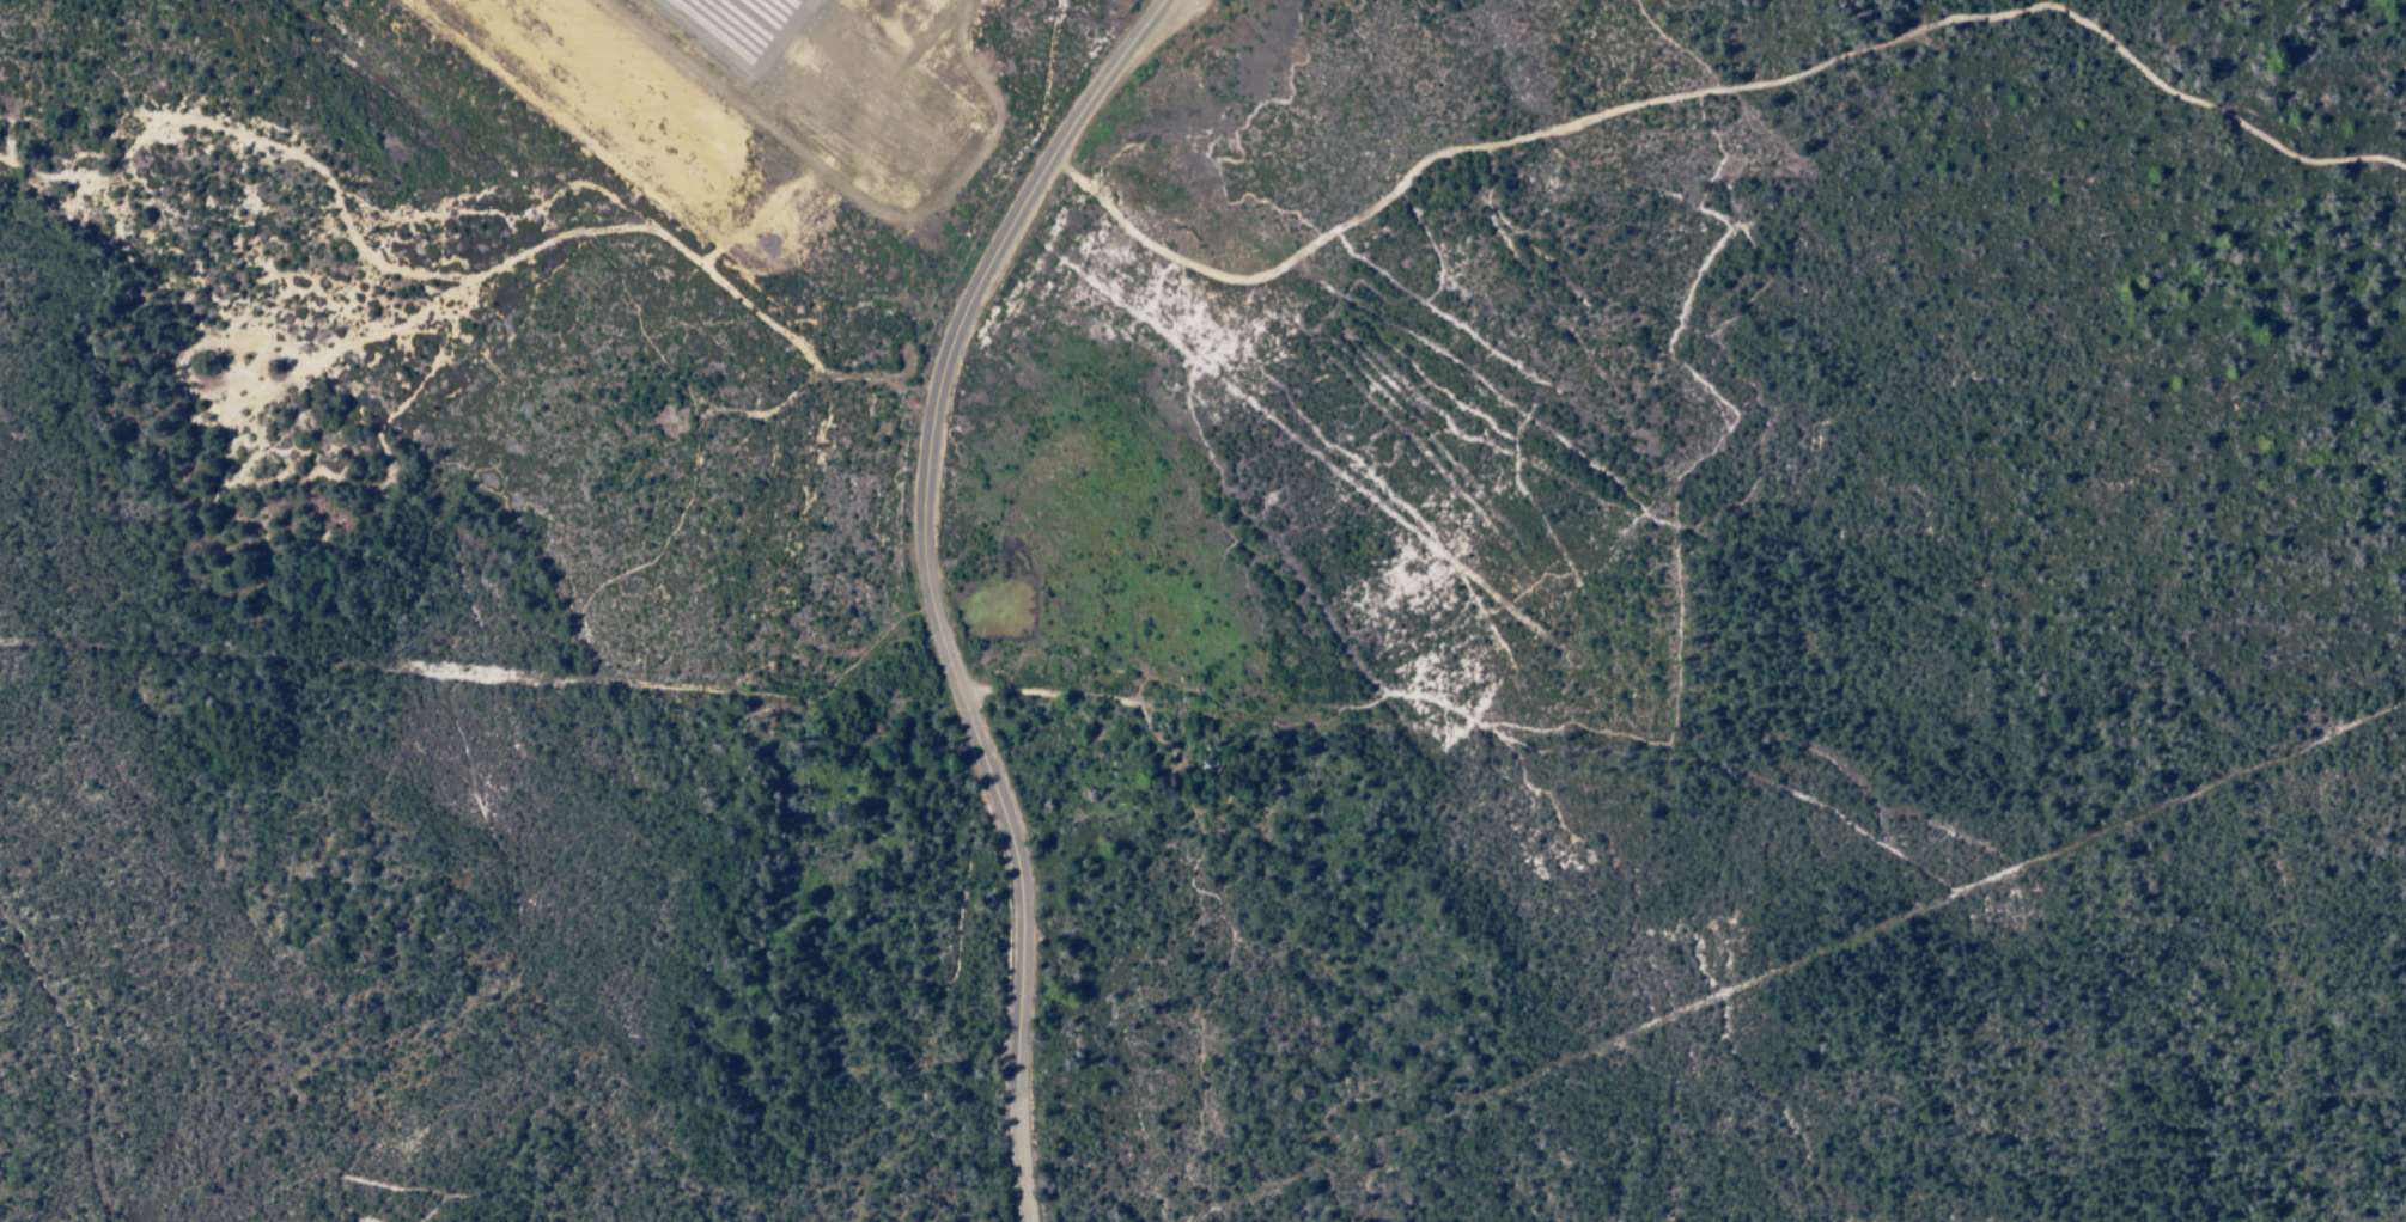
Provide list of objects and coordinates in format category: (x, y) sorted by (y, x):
airport runway: (741, 14)
airport taxiway: (775, 14)
airport: (602, 238)
road: (927, 586)

